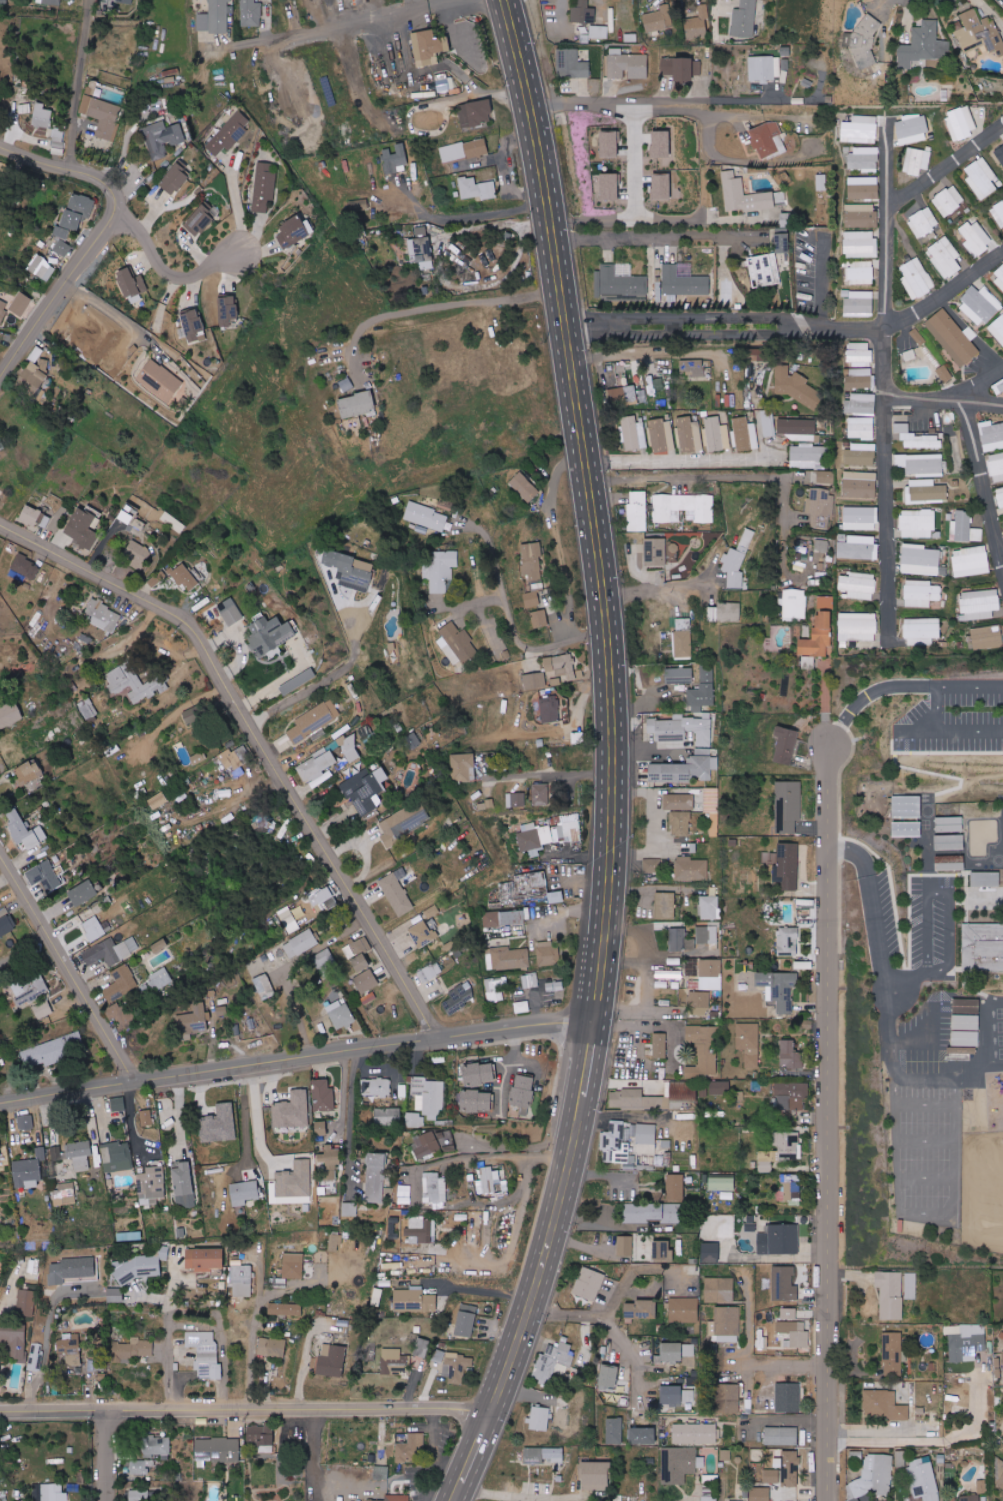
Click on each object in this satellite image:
building: (125, 1)
road: (509, 1)
building: (51, 2)
road: (912, 2)
road: (989, 11)
building: (251, 13)
building: (583, 13)
building: (697, 13)
building: (214, 17)
building: (658, 19)
building: (744, 19)
road: (332, 23)
building: (695, 29)
building: (599, 32)
building: (980, 33)
building: (865, 40)
building: (923, 45)
building: (429, 47)
building: (571, 64)
building: (627, 64)
building: (681, 68)
building: (765, 68)
building: (0, 73)
road: (70, 83)
building: (445, 84)
building: (332, 90)
road: (723, 100)
road: (638, 107)
building: (476, 113)
building: (42, 115)
building: (102, 115)
building: (431, 117)
building: (961, 122)
building: (859, 129)
building: (912, 129)
building: (230, 133)
building: (163, 138)
building: (768, 140)
building: (58, 141)
building: (610, 143)
building: (661, 143)
building: (463, 150)
building: (998, 158)
building: (395, 159)
building: (863, 159)
building: (916, 161)
road: (945, 166)
building: (1, 176)
building: (981, 177)
building: (176, 179)
building: (821, 182)
building: (264, 186)
building: (611, 186)
building: (662, 186)
building: (863, 188)
building: (476, 189)
building: (744, 195)
building: (948, 200)
road: (637, 205)
building: (359, 206)
building: (78, 211)
building: (998, 213)
road: (471, 215)
building: (861, 216)
building: (202, 219)
building: (788, 219)
building: (921, 221)
building: (295, 231)
road: (99, 234)
road: (658, 237)
building: (976, 237)
building: (62, 241)
building: (782, 243)
building: (861, 244)
building: (420, 246)
building: (945, 257)
building: (42, 268)
building: (764, 268)
road: (166, 270)
building: (916, 277)
building: (999, 277)
building: (684, 282)
building: (132, 284)
building: (619, 285)
building: (860, 303)
building: (21, 304)
building: (979, 305)
road: (439, 307)
building: (3, 309)
building: (228, 310)
road: (112, 312)
building: (193, 325)
road: (798, 328)
building: (997, 328)
building: (953, 337)
building: (859, 353)
building: (36, 354)
road: (643, 354)
building: (910, 354)
building: (692, 368)
building: (940, 374)
building: (861, 378)
building: (36, 380)
building: (160, 380)
road: (888, 383)
building: (346, 384)
building: (793, 386)
building: (998, 388)
building: (623, 395)
building: (861, 403)
building: (358, 404)
road: (951, 406)
road: (984, 410)
building: (768, 423)
building: (861, 428)
building: (798, 429)
building: (31, 431)
building: (633, 434)
building: (689, 434)
building: (717, 434)
building: (745, 434)
building: (992, 435)
building: (662, 436)
building: (916, 438)
building: (861, 454)
building: (807, 456)
road: (684, 458)
building: (921, 464)
building: (996, 466)
building: (822, 477)
building: (860, 485)
building: (525, 486)
building: (926, 491)
road: (984, 491)
building: (1000, 496)
building: (819, 507)
building: (682, 508)
building: (637, 511)
building: (35, 517)
building: (426, 517)
building: (860, 518)
building: (173, 522)
building: (917, 523)
building: (83, 528)
building: (965, 528)
building: (822, 545)
building: (858, 547)
building: (655, 552)
building: (137, 554)
building: (532, 560)
building: (920, 560)
building: (737, 561)
building: (970, 561)
building: (25, 569)
building: (439, 569)
building: (351, 570)
building: (185, 577)
building: (858, 585)
road: (665, 586)
building: (921, 593)
building: (532, 599)
building: (826, 602)
building: (794, 604)
building: (979, 604)
building: (726, 611)
building: (231, 612)
building: (103, 616)
building: (540, 618)
building: (857, 626)
road: (512, 628)
building: (922, 631)
building: (270, 634)
building: (683, 637)
building: (818, 637)
building: (987, 637)
building: (456, 644)
building: (808, 662)
building: (561, 666)
road: (330, 675)
building: (680, 675)
building: (289, 676)
building: (534, 681)
building: (298, 682)
building: (133, 683)
building: (703, 690)
road: (870, 691)
road: (938, 707)
building: (88, 708)
building: (550, 709)
building: (193, 714)
building: (10, 715)
building: (314, 721)
road: (916, 730)
building: (681, 731)
road: (257, 738)
building: (576, 738)
building: (365, 742)
building: (786, 746)
building: (350, 749)
building: (190, 756)
road: (612, 757)
building: (231, 759)
building: (317, 765)
building: (463, 767)
building: (686, 768)
building: (29, 773)
road: (542, 774)
building: (366, 790)
building: (711, 791)
building: (540, 794)
building: (158, 800)
building: (516, 800)
building: (679, 802)
building: (486, 804)
building: (788, 807)
building: (907, 807)
building: (404, 823)
building: (680, 823)
building: (950, 824)
building: (263, 825)
building: (567, 828)
building: (907, 829)
building: (25, 830)
building: (533, 837)
building: (950, 842)
building: (951, 863)
building: (652, 865)
building: (787, 867)
building: (691, 869)
building: (45, 877)
building: (986, 879)
building: (526, 885)
road: (946, 888)
building: (397, 892)
building: (84, 893)
building: (556, 897)
building: (324, 901)
road: (876, 903)
building: (665, 906)
building: (710, 907)
building: (432, 911)
building: (3, 913)
building: (504, 918)
building: (288, 919)
parking lot: (879, 920)
building: (7, 926)
building: (93, 929)
building: (423, 934)
building: (707, 934)
building: (680, 940)
building: (788, 942)
building: (300, 944)
building: (160, 946)
building: (982, 948)
building: (111, 951)
building: (548, 954)
building: (323, 959)
building: (510, 959)
building: (361, 965)
road: (67, 966)
building: (693, 968)
building: (432, 972)
building: (668, 974)
building: (711, 975)
building: (161, 978)
building: (530, 980)
building: (661, 983)
building: (121, 984)
building: (264, 986)
building: (555, 986)
building: (237, 989)
building: (779, 989)
building: (33, 997)
building: (459, 998)
building: (699, 1003)
building: (967, 1006)
building: (522, 1007)
building: (222, 1010)
road: (886, 1015)
building: (343, 1017)
building: (193, 1021)
road: (677, 1023)
building: (966, 1023)
parking lot: (925, 1031)
building: (702, 1036)
road: (636, 1038)
building: (966, 1039)
road: (925, 1041)
building: (748, 1043)
building: (660, 1045)
building: (53, 1051)
building: (790, 1054)
road: (296, 1056)
building: (704, 1065)
building: (479, 1073)
road: (924, 1078)
building: (376, 1087)
building: (720, 1087)
building: (791, 1092)
building: (524, 1093)
building: (689, 1094)
building: (323, 1095)
building: (428, 1096)
building: (637, 1100)
building: (476, 1101)
road: (925, 1105)
building: (293, 1110)
road: (256, 1113)
road: (351, 1116)
building: (387, 1116)
road: (621, 1116)
building: (415, 1120)
building: (25, 1121)
road: (827, 1122)
building: (220, 1123)
building: (321, 1127)
building: (646, 1139)
building: (749, 1139)
road: (926, 1140)
building: (447, 1141)
building: (615, 1143)
building: (426, 1144)
building: (789, 1144)
road: (517, 1145)
building: (0, 1150)
building: (56, 1153)
building: (80, 1154)
building: (117, 1156)
building: (330, 1156)
building: (765, 1166)
building: (27, 1173)
building: (240, 1176)
building: (376, 1177)
road: (926, 1178)
road: (415, 1180)
building: (488, 1181)
building: (152, 1182)
building: (184, 1183)
building: (295, 1183)
building: (722, 1183)
building: (676, 1185)
building: (792, 1188)
building: (435, 1189)
building: (405, 1190)
building: (245, 1192)
building: (65, 1194)
building: (350, 1209)
building: (653, 1212)
road: (925, 1212)
building: (726, 1226)
building: (750, 1226)
building: (421, 1230)
building: (130, 1236)
building: (780, 1239)
building: (334, 1242)
road: (512, 1244)
building: (625, 1245)
building: (679, 1247)
building: (663, 1250)
building: (711, 1252)
building: (204, 1258)
building: (143, 1264)
building: (293, 1265)
road: (629, 1275)
building: (242, 1280)
building: (784, 1283)
building: (590, 1284)
building: (910, 1286)
road: (481, 1289)
building: (726, 1289)
building: (890, 1294)
building: (377, 1296)
building: (26, 1299)
building: (414, 1299)
building: (285, 1309)
building: (641, 1309)
building: (684, 1309)
road: (562, 1313)
building: (789, 1313)
building: (466, 1319)
building: (726, 1324)
building: (794, 1333)
road: (254, 1334)
road: (167, 1338)
building: (14, 1339)
road: (46, 1341)
building: (967, 1343)
building: (272, 1347)
building: (71, 1349)
road: (628, 1349)
building: (132, 1350)
building: (676, 1351)
building: (206, 1353)
building: (892, 1353)
building: (34, 1356)
building: (332, 1360)
building: (555, 1360)
building: (393, 1361)
road: (784, 1363)
building: (0, 1366)
building: (457, 1367)
building: (609, 1376)
building: (676, 1394)
building: (788, 1397)
building: (884, 1405)
road: (244, 1408)
building: (539, 1418)
road: (788, 1419)
building: (615, 1430)
building: (385, 1431)
building: (694, 1433)
building: (643, 1435)
building: (262, 1436)
building: (782, 1436)
road: (936, 1440)
building: (410, 1447)
building: (217, 1449)
road: (105, 1454)
building: (151, 1455)
building: (544, 1455)
building: (900, 1458)
building: (679, 1463)
building: (791, 1468)
building: (382, 1472)
building: (596, 1475)
building: (772, 1476)
building: (873, 1476)
building: (924, 1478)
building: (999, 1479)
building: (53, 1492)
building: (760, 1494)
building: (138, 1495)
road: (527, 1497)
building: (394, 1498)
building: (971, 1498)
building: (709, 1499)

